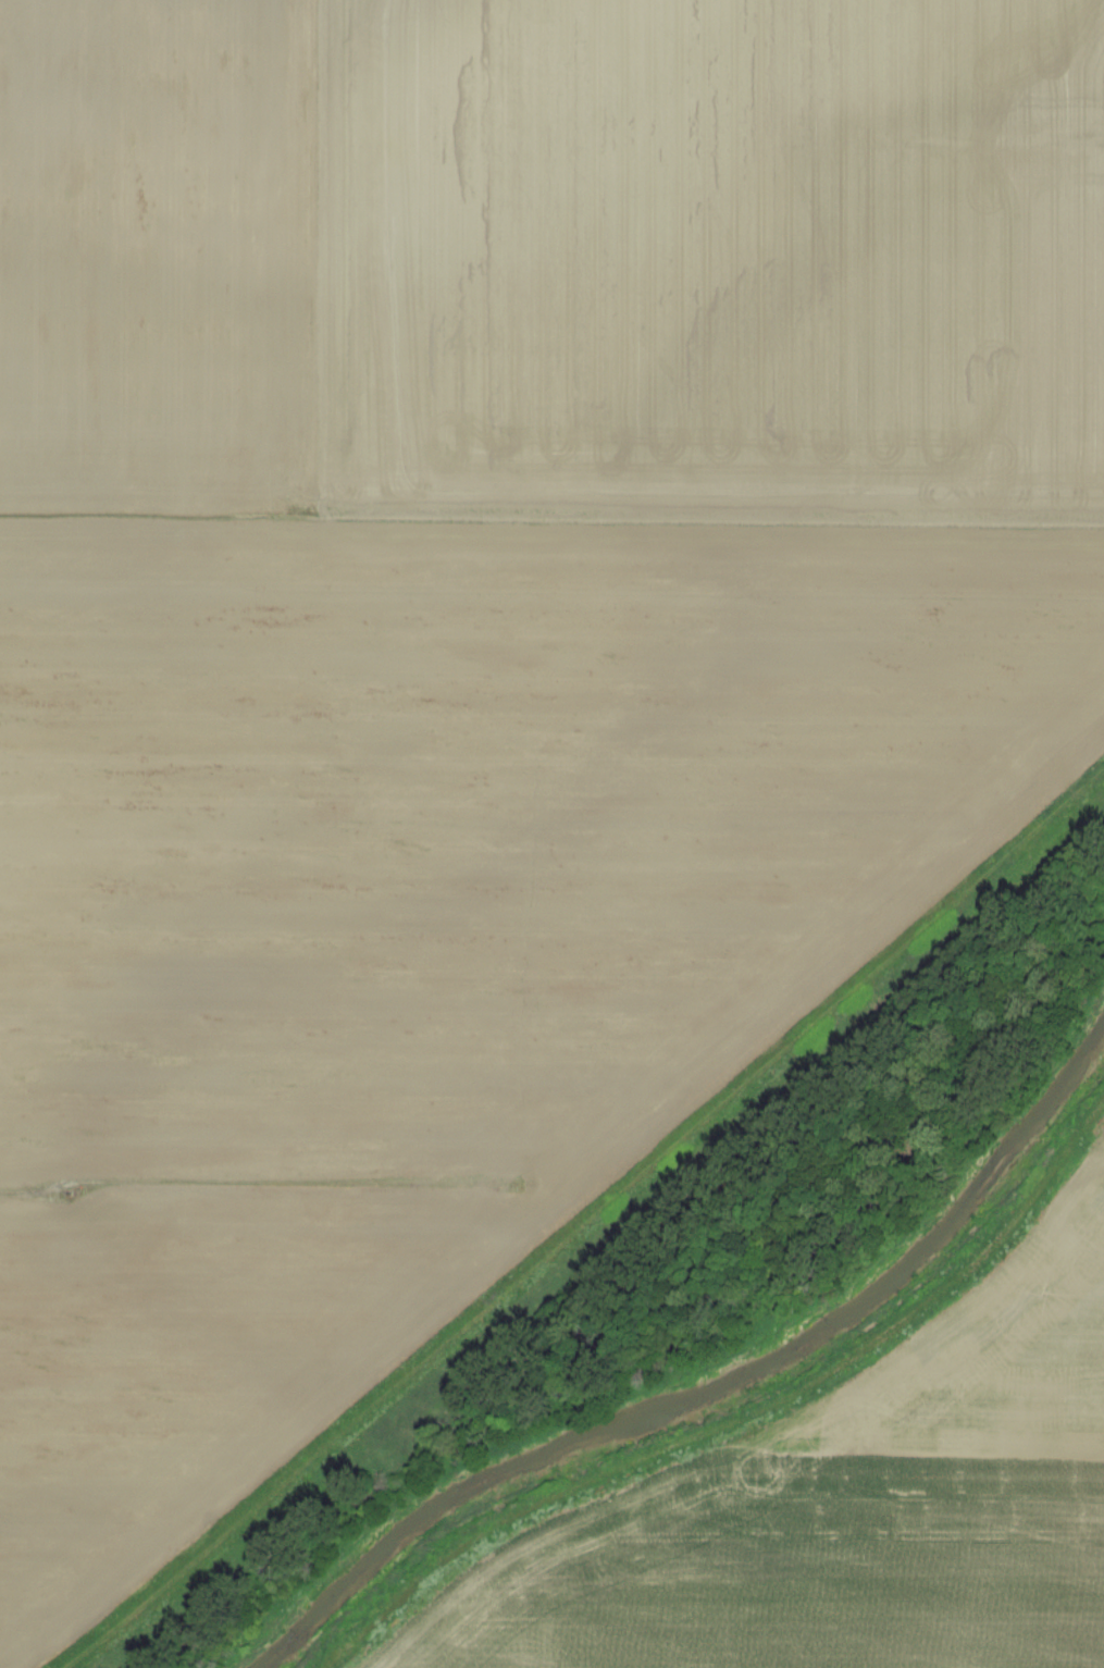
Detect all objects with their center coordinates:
river: (709, 1387)

